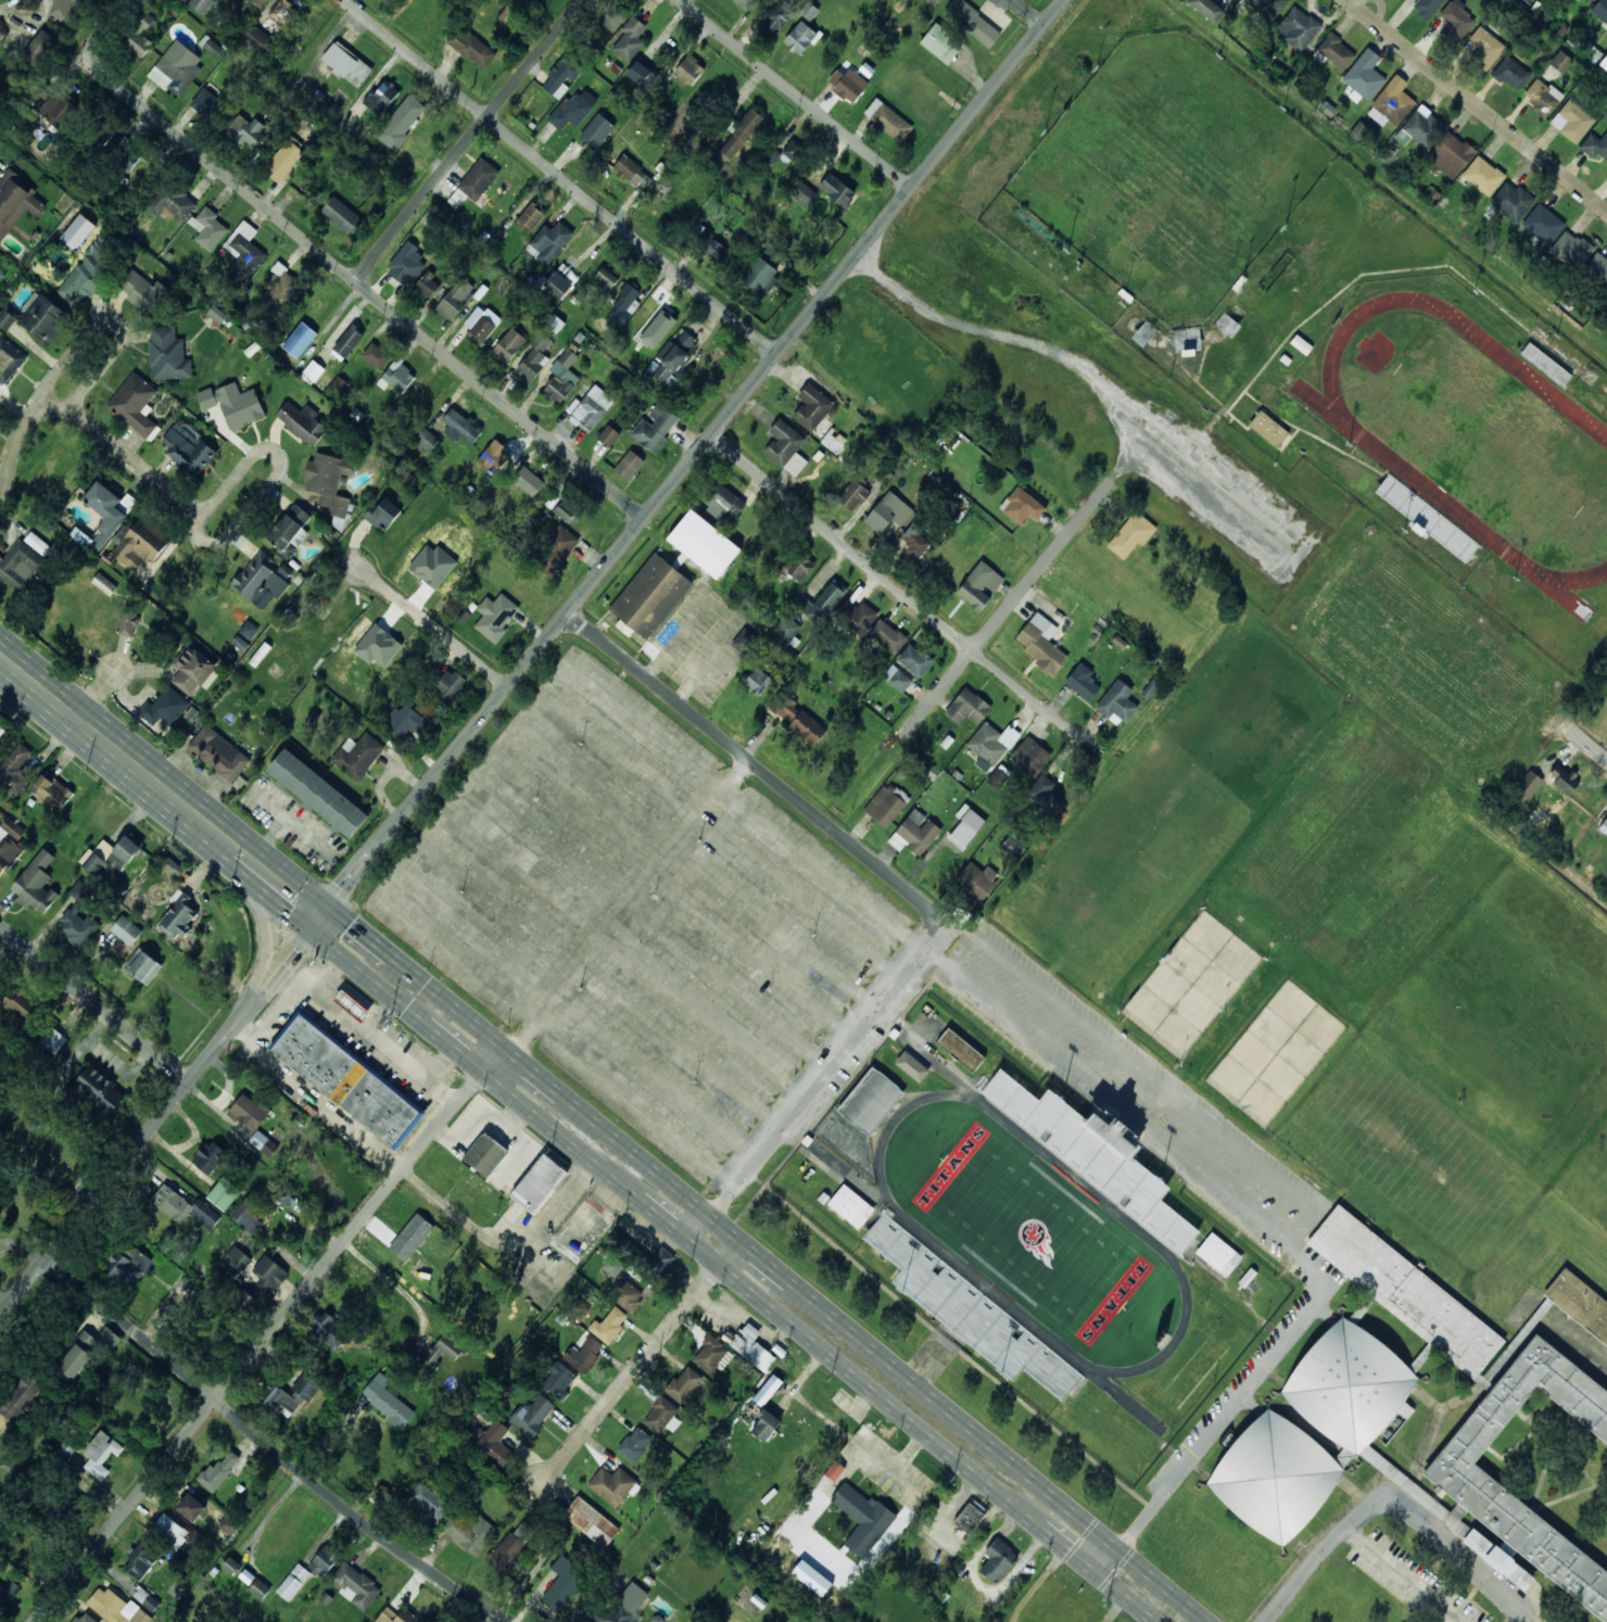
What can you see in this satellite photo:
building: (185, 0)
building: (1590, 0)
building: (934, 1)
building: (745, 3)
building: (201, 4)
building: (244, 4)
building: (1267, 8)
building: (1427, 8)
building: (65, 9)
building: (1207, 9)
building: (809, 11)
road: (1032, 11)
building: (1600, 11)
building: (283, 12)
building: (610, 15)
building: (779, 15)
building: (1457, 20)
building: (973, 22)
building: (1298, 28)
road: (99, 35)
building: (140, 35)
building: (800, 38)
building: (630, 39)
building: (257, 40)
building: (941, 43)
building: (39, 48)
building: (471, 48)
building: (1484, 48)
building: (1336, 52)
building: (1561, 62)
building: (1604, 63)
building: (346, 64)
building: (176, 68)
building: (688, 71)
building: (641, 74)
building: (1511, 74)
building: (562, 75)
building: (1363, 80)
building: (848, 85)
road: (797, 93)
building: (381, 97)
building: (1542, 97)
building: (206, 101)
road: (1477, 105)
building: (1390, 106)
building: (58, 109)
building: (572, 110)
building: (888, 119)
building: (401, 122)
building: (1572, 122)
building: (1423, 127)
building: (248, 130)
building: (597, 130)
building: (742, 134)
building: (105, 135)
road: (468, 140)
building: (1595, 145)
building: (793, 150)
building: (1451, 154)
building: (771, 155)
building: (127, 156)
building: (286, 156)
building: (633, 173)
road: (562, 176)
building: (1483, 176)
building: (1606, 176)
building: (479, 180)
building: (837, 190)
building: (805, 193)
building: (1511, 202)
building: (16, 203)
building: (173, 203)
building: (342, 215)
building: (530, 218)
building: (1543, 225)
building: (208, 228)
building: (78, 232)
building: (551, 242)
building: (713, 248)
building: (1571, 250)
building: (243, 253)
building: (407, 264)
building: (1, 270)
building: (1597, 270)
building: (89, 273)
building: (760, 276)
building: (605, 280)
building: (561, 281)
building: (427, 284)
building: (283, 288)
building: (142, 290)
road: (376, 296)
building: (455, 299)
building: (1606, 302)
building: (623, 306)
building: (653, 314)
building: (216, 315)
building: (43, 318)
building: (7, 319)
road: (104, 326)
building: (300, 340)
building: (349, 341)
building: (508, 346)
building: (168, 354)
building: (376, 356)
building: (534, 358)
building: (674, 358)
building: (9, 360)
building: (313, 372)
building: (398, 377)
building: (562, 378)
building: (339, 385)
building: (206, 398)
building: (240, 406)
building: (812, 407)
building: (592, 408)
building: (302, 422)
building: (460, 427)
building: (655, 427)
building: (1266, 427)
building: (609, 435)
track: (1471, 435)
building: (427, 440)
building: (786, 447)
building: (190, 454)
road: (129, 457)
building: (494, 457)
road: (692, 458)
building: (630, 465)
building: (528, 481)
building: (329, 482)
building: (853, 495)
road: (1093, 502)
road: (255, 503)
building: (723, 503)
building: (1022, 506)
building: (569, 512)
building: (104, 514)
building: (383, 515)
building: (1425, 515)
road: (198, 531)
building: (290, 531)
building: (1131, 534)
building: (699, 540)
building: (915, 541)
building: (140, 545)
building: (556, 552)
building: (23, 560)
building: (799, 568)
building: (261, 578)
building: (104, 584)
building: (980, 585)
road: (899, 588)
building: (651, 596)
building: (821, 603)
building: (858, 616)
building: (495, 617)
building: (129, 621)
building: (624, 628)
building: (787, 629)
building: (888, 635)
building: (745, 642)
building: (1041, 643)
road: (436, 649)
building: (915, 660)
building: (192, 671)
building: (897, 679)
building: (756, 680)
building: (1083, 682)
building: (451, 685)
road: (96, 695)
building: (1117, 704)
building: (784, 707)
building: (967, 707)
building: (165, 708)
building: (408, 721)
building: (808, 727)
building: (2, 730)
road: (1590, 743)
building: (991, 745)
building: (219, 753)
building: (358, 756)
building: (1030, 756)
building: (15, 771)
building: (999, 777)
building: (1562, 780)
building: (1529, 785)
road: (160, 786)
building: (52, 790)
building: (1046, 793)
building: (318, 794)
building: (886, 804)
building: (1604, 826)
building: (915, 833)
building: (9, 844)
building: (1011, 846)
building: (114, 854)
building: (1606, 874)
building: (976, 882)
building: (37, 884)
road: (915, 895)
parking lot: (638, 914)
building: (179, 915)
building: (75, 929)
building: (126, 930)
road: (4, 941)
building: (143, 966)
building: (22, 1003)
road: (93, 1004)
building: (353, 1005)
building: (961, 1050)
building: (912, 1066)
building: (347, 1081)
building: (100, 1092)
building: (871, 1101)
building: (249, 1112)
road: (160, 1115)
building: (264, 1143)
building: (485, 1154)
building: (210, 1157)
building: (539, 1183)
building: (851, 1206)
building: (185, 1207)
building: (246, 1215)
stadium: (1034, 1224)
park: (1033, 1226)
building: (412, 1238)
building: (1219, 1255)
building: (238, 1259)
road: (768, 1262)
building: (128, 1266)
building: (270, 1272)
road: (738, 1275)
building: (1404, 1284)
building: (628, 1296)
building: (243, 1301)
building: (1580, 1303)
building: (609, 1325)
building: (329, 1330)
road: (269, 1334)
building: (100, 1340)
building: (751, 1347)
building: (442, 1352)
building: (710, 1354)
building: (584, 1355)
road: (641, 1361)
building: (75, 1363)
building: (559, 1380)
building: (1350, 1383)
building: (684, 1384)
building: (768, 1391)
building: (22, 1394)
building: (290, 1395)
building: (387, 1401)
building: (531, 1416)
building: (662, 1416)
building: (765, 1424)
building: (493, 1443)
building: (635, 1444)
road: (271, 1445)
building: (65, 1449)
building: (101, 1454)
building: (220, 1470)
building: (1271, 1474)
building: (830, 1475)
building: (613, 1485)
building: (429, 1501)
building: (65, 1503)
building: (191, 1507)
building: (970, 1516)
building: (853, 1518)
building: (592, 1522)
building: (228, 1524)
building: (1514, 1525)
building: (170, 1531)
building: (470, 1533)
building: (511, 1546)
building: (999, 1560)
building: (324, 1561)
building: (140, 1562)
building: (231, 1566)
building: (293, 1582)
building: (562, 1584)
building: (356, 1586)
building: (260, 1588)
building: (8, 1593)
building: (147, 1599)
building: (623, 1607)
building: (116, 1608)
building: (397, 1615)
building: (85, 1618)
building: (101, 1621)

